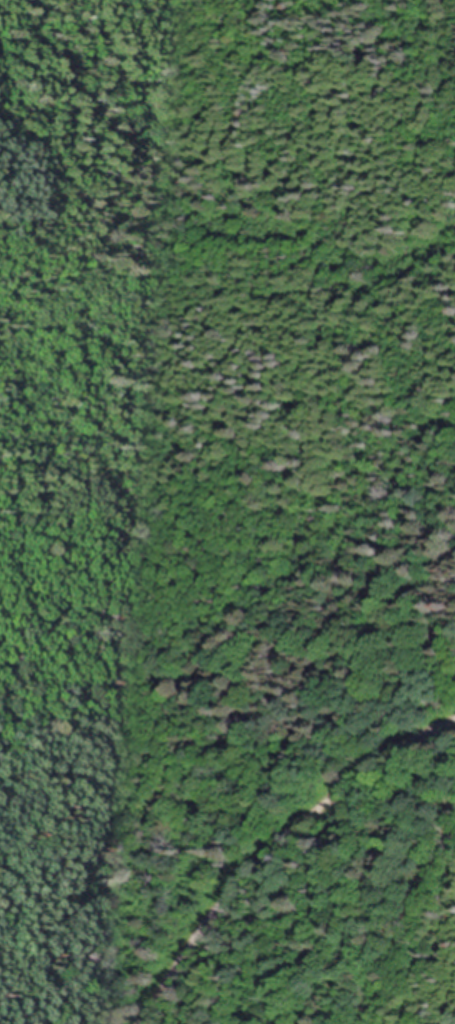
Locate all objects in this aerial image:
road: (276, 848)

